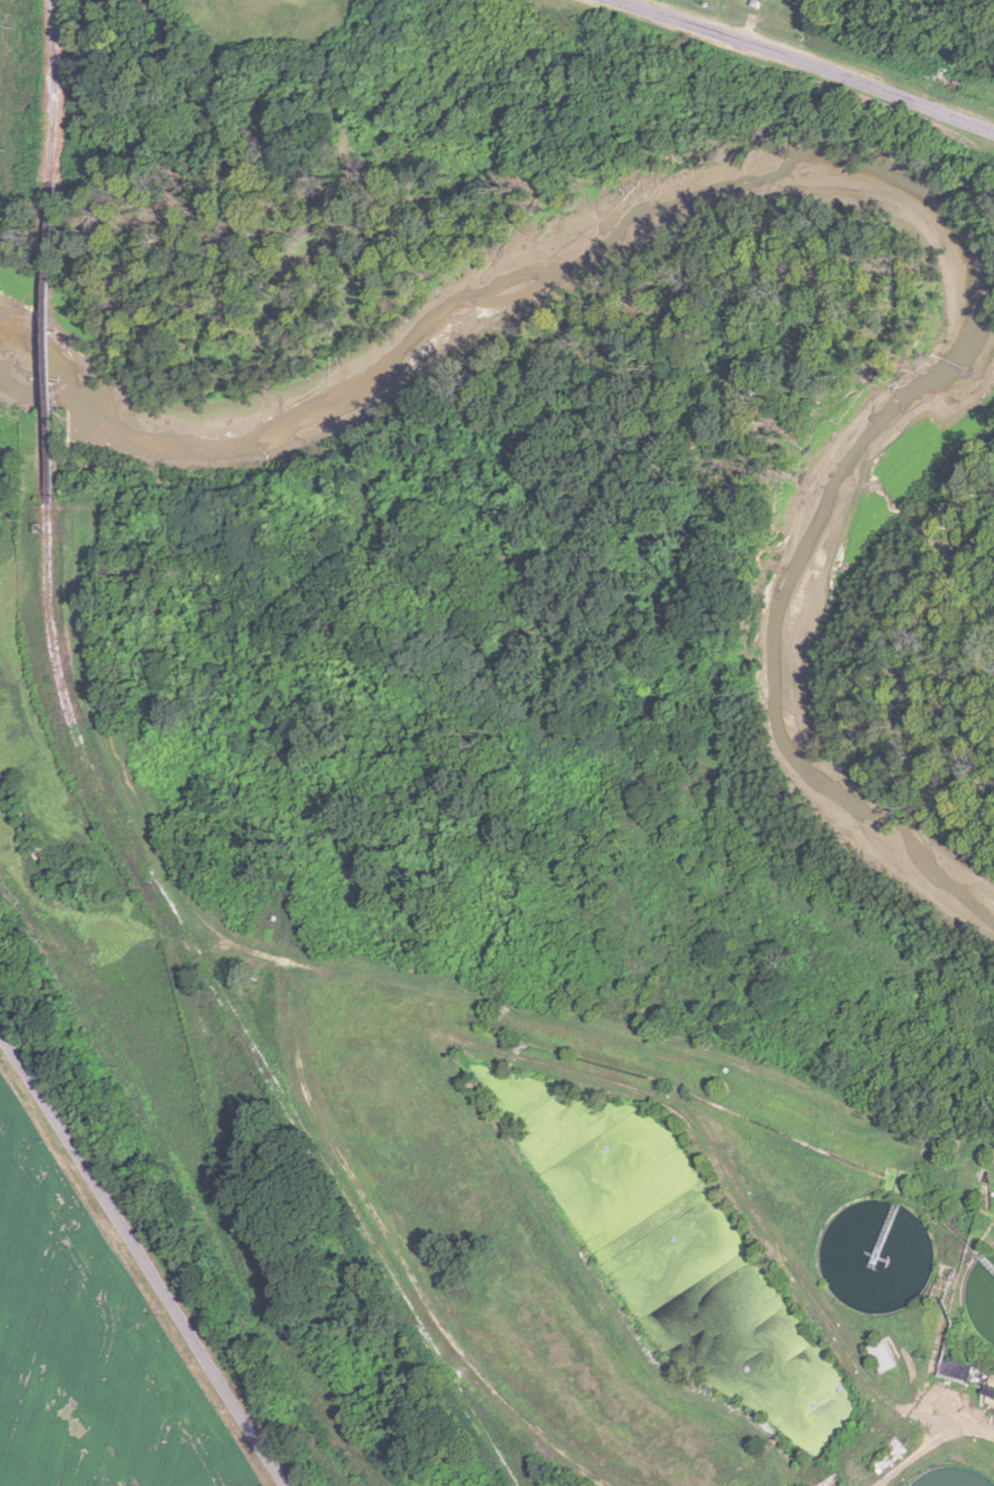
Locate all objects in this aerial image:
railway: (52, 27)
road: (807, 61)
railway: (54, 90)
river: (845, 173)
railway: (51, 343)
road: (556, 780)
railway: (231, 1013)
road: (141, 1265)
building: (987, 1267)
building: (883, 1355)
building: (959, 1369)
building: (888, 1454)

